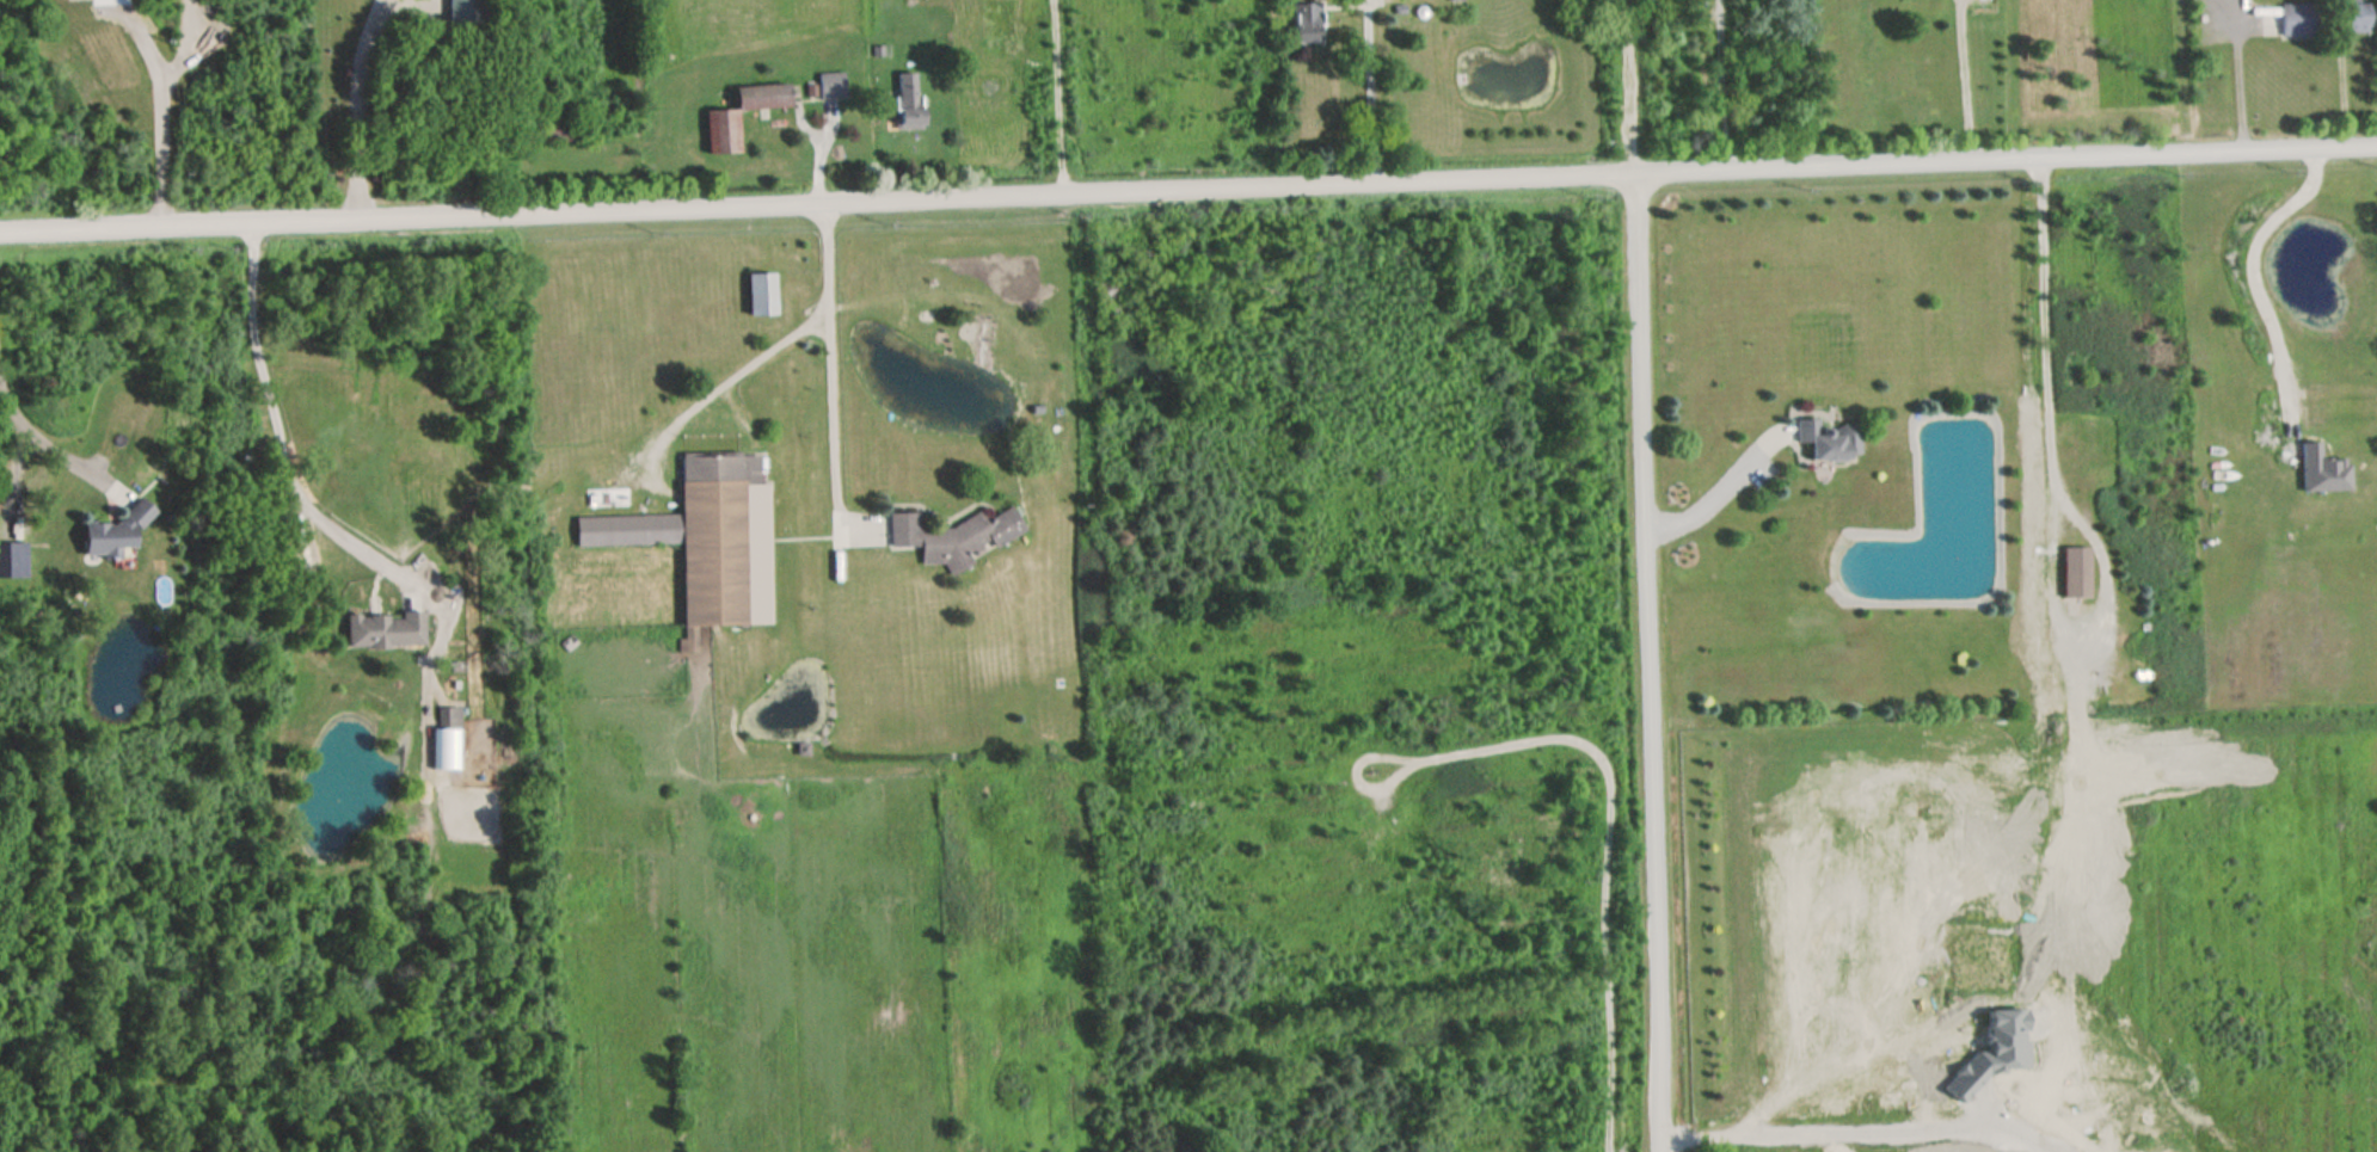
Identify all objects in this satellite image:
building: (2355, 16)
building: (2297, 19)
building: (1307, 24)
road: (2232, 74)
road: (1958, 80)
building: (830, 84)
road: (1628, 87)
road: (1063, 98)
building: (907, 100)
road: (1366, 101)
road: (357, 107)
road: (158, 109)
building: (720, 131)
road: (2004, 159)
road: (816, 205)
road: (2249, 260)
building: (761, 295)
road: (825, 366)
road: (2031, 376)
road: (719, 390)
road: (275, 425)
road: (45, 438)
building: (1829, 441)
building: (2323, 470)
road: (1709, 503)
building: (113, 535)
building: (953, 538)
building: (706, 543)
building: (2076, 573)
building: (383, 630)
road: (1640, 663)
building: (448, 719)

